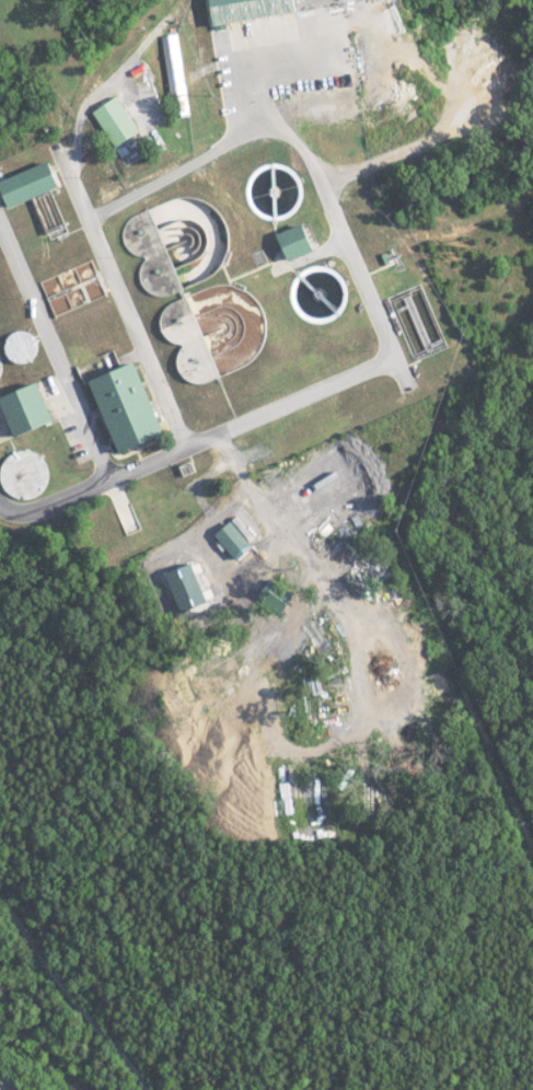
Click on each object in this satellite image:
road: (254, 60)
building: (177, 73)
building: (118, 120)
road: (282, 126)
building: (33, 183)
building: (50, 214)
building: (301, 241)
building: (22, 346)
road: (53, 358)
building: (130, 406)
building: (30, 409)
building: (21, 474)
road: (94, 485)
building: (237, 537)
building: (275, 592)
road: (71, 996)
road: (0, 1089)

